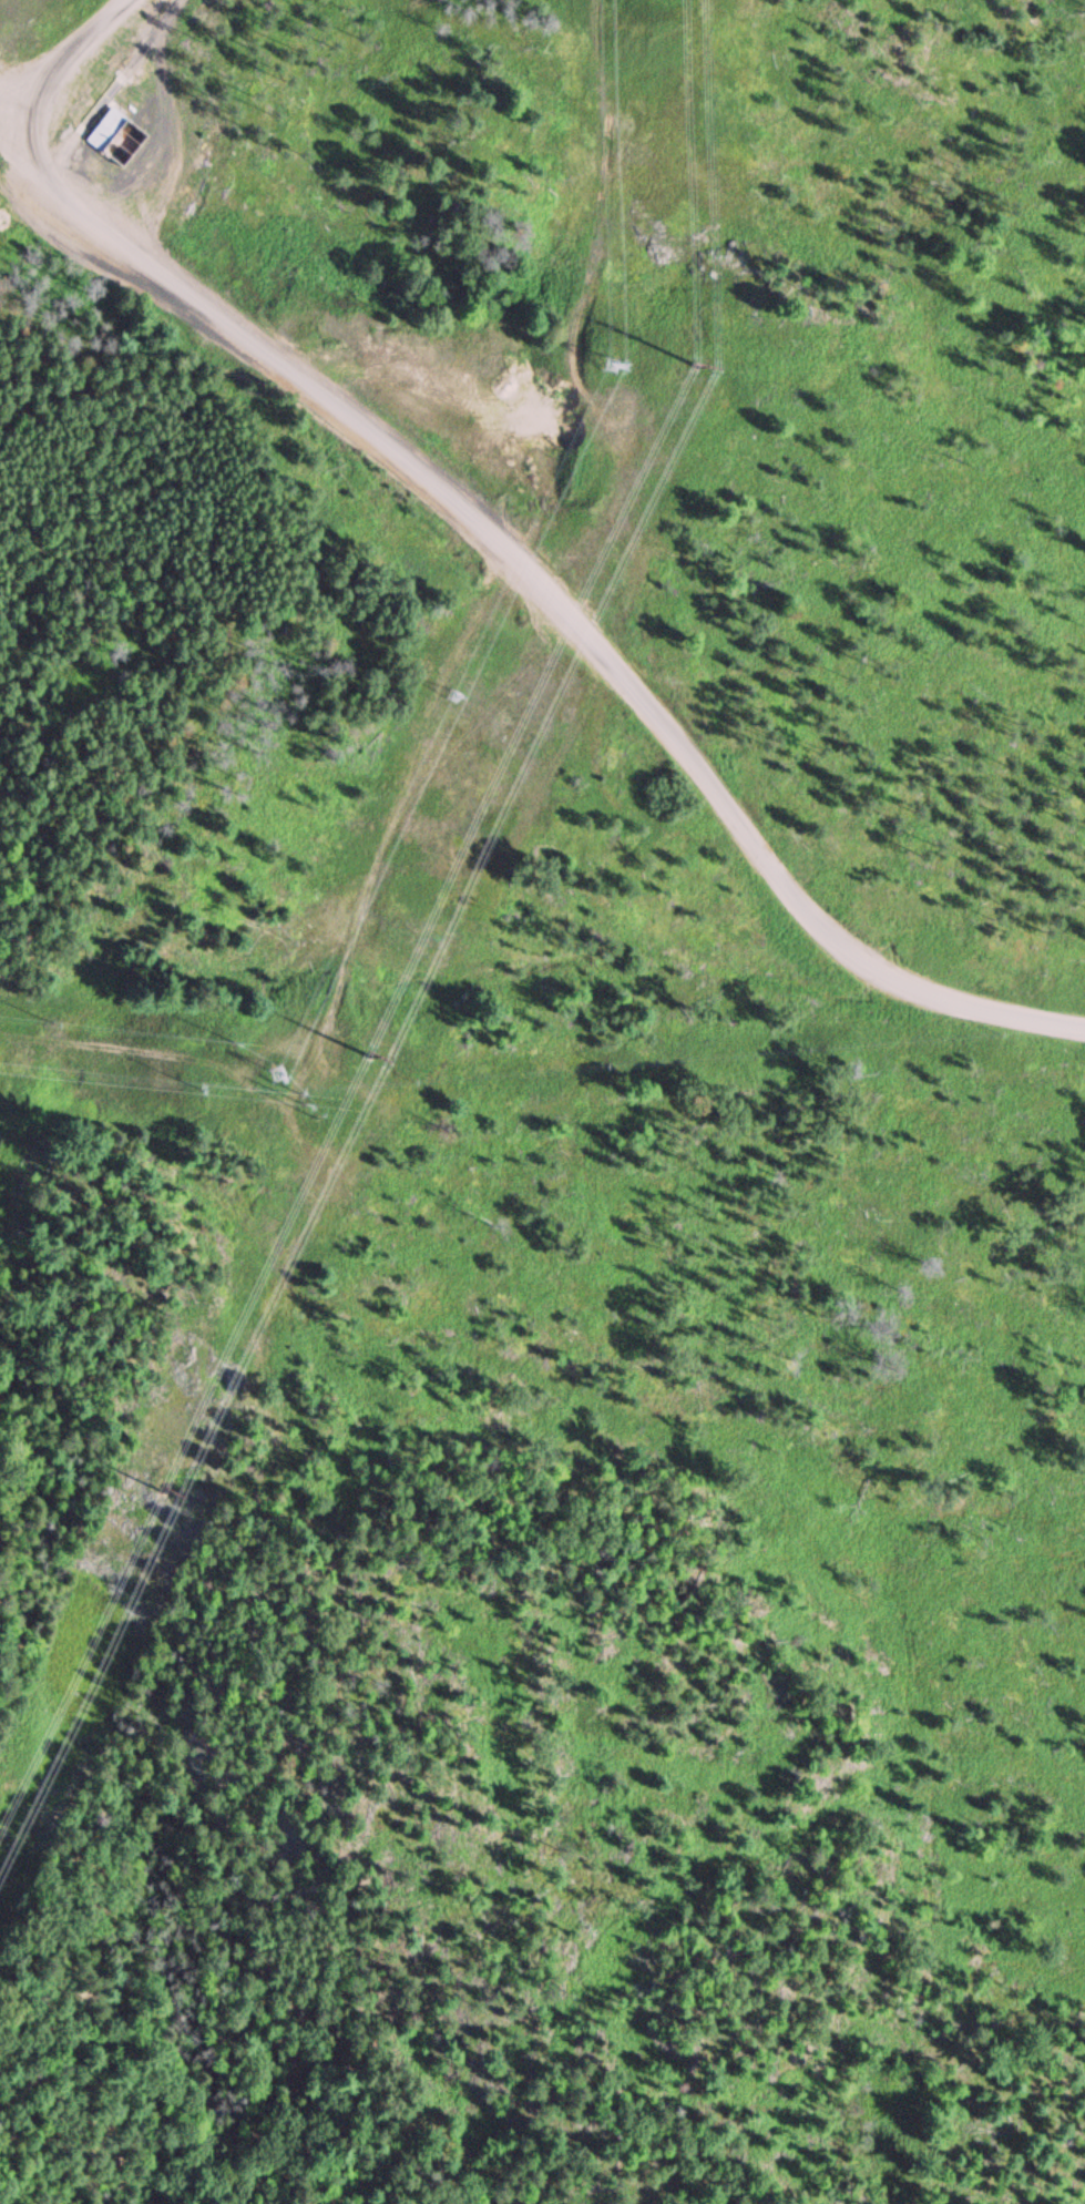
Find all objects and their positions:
road: (63, 59)
power tower: (727, 357)
power tower: (617, 364)
road: (547, 598)
power tower: (460, 696)
power tower: (389, 1049)
power tower: (279, 1077)

